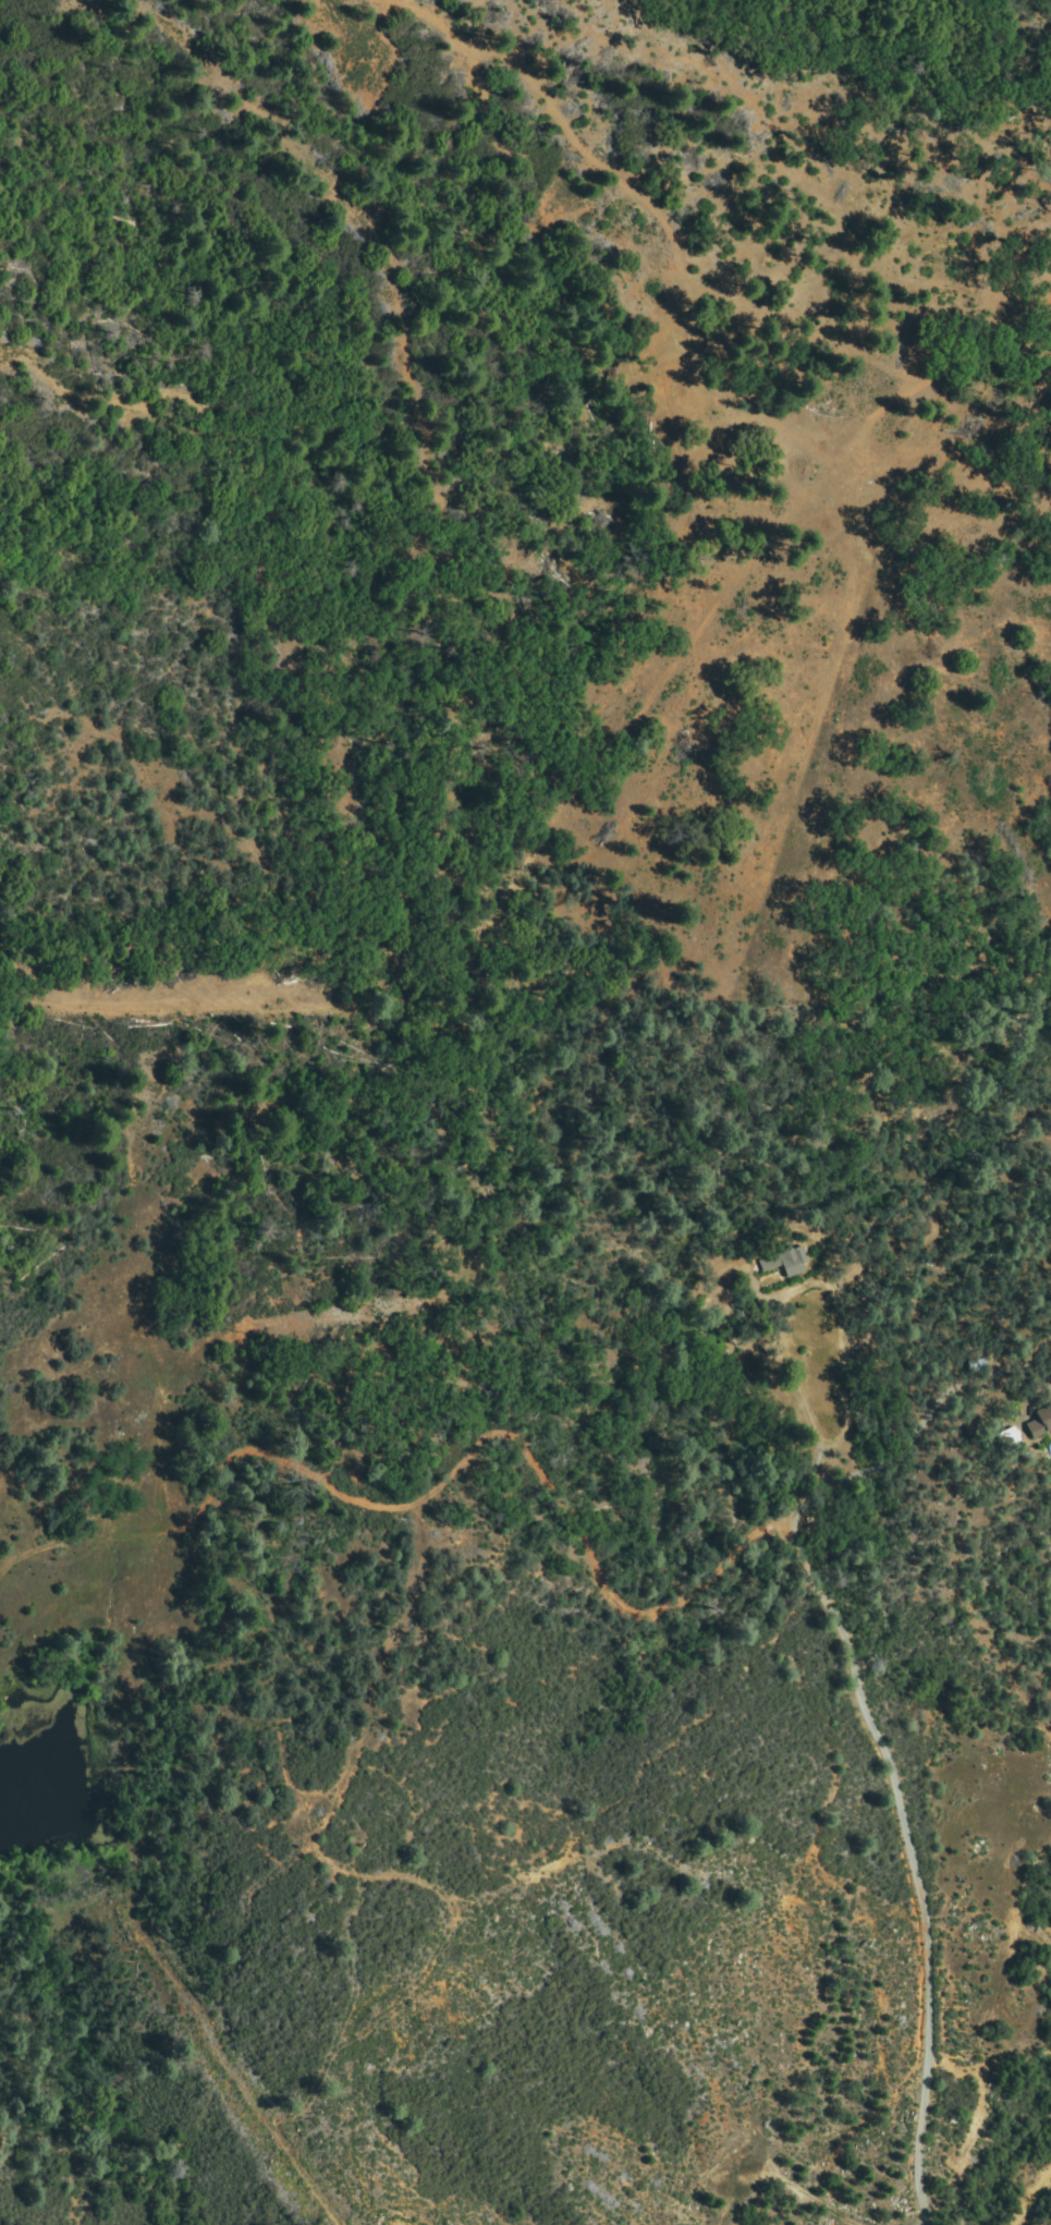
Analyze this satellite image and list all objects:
building: (785, 1260)
building: (864, 1291)
building: (976, 1366)
building: (1040, 1423)
building: (1007, 1437)
road: (903, 1796)
road: (1026, 2196)

